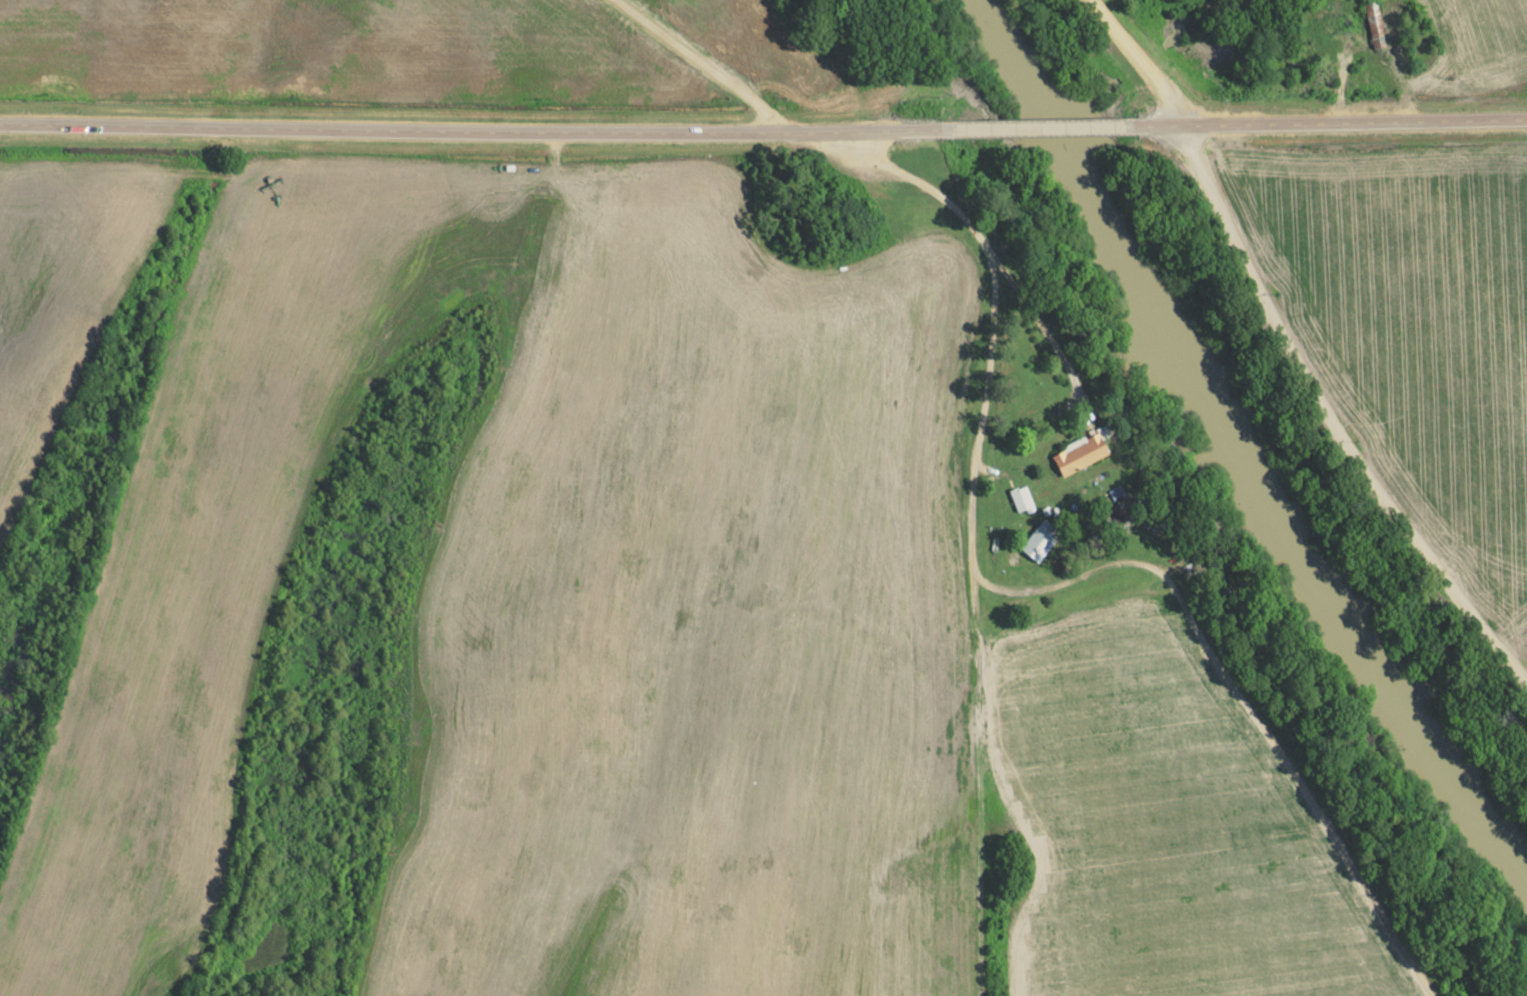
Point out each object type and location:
building: (1372, 24)
building: (1319, 44)
road: (1133, 61)
road: (708, 66)
road: (1323, 123)
road: (1021, 129)
road: (460, 132)
road: (1332, 411)
river: (1242, 438)
building: (1077, 454)
building: (1020, 500)
road: (973, 527)
building: (1037, 540)

